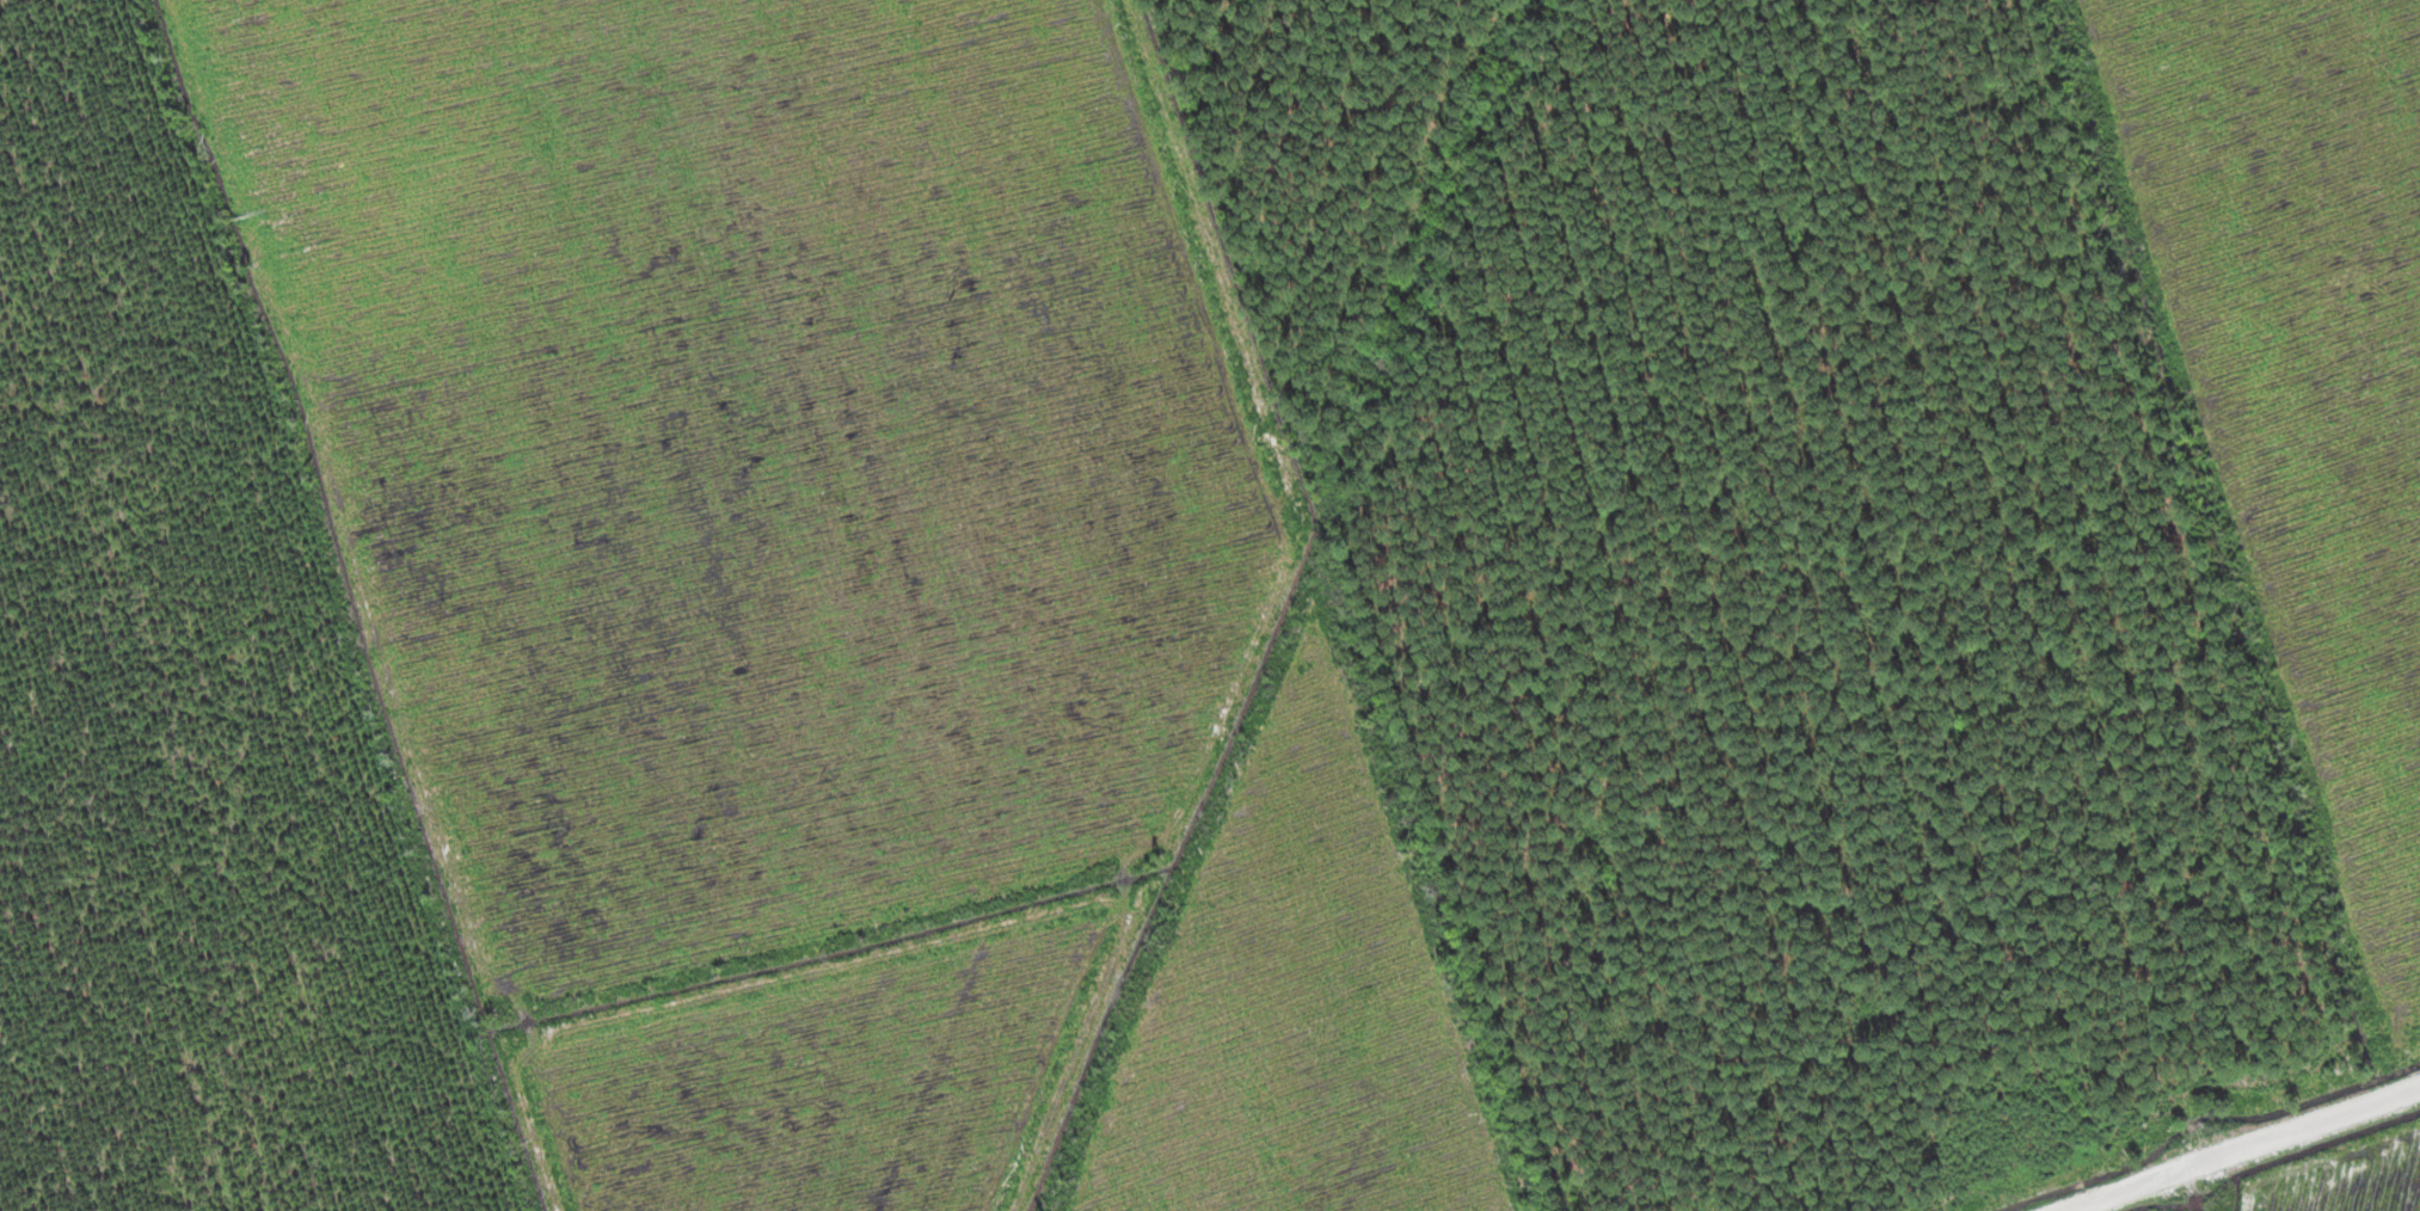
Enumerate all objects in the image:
road: (2248, 1147)

